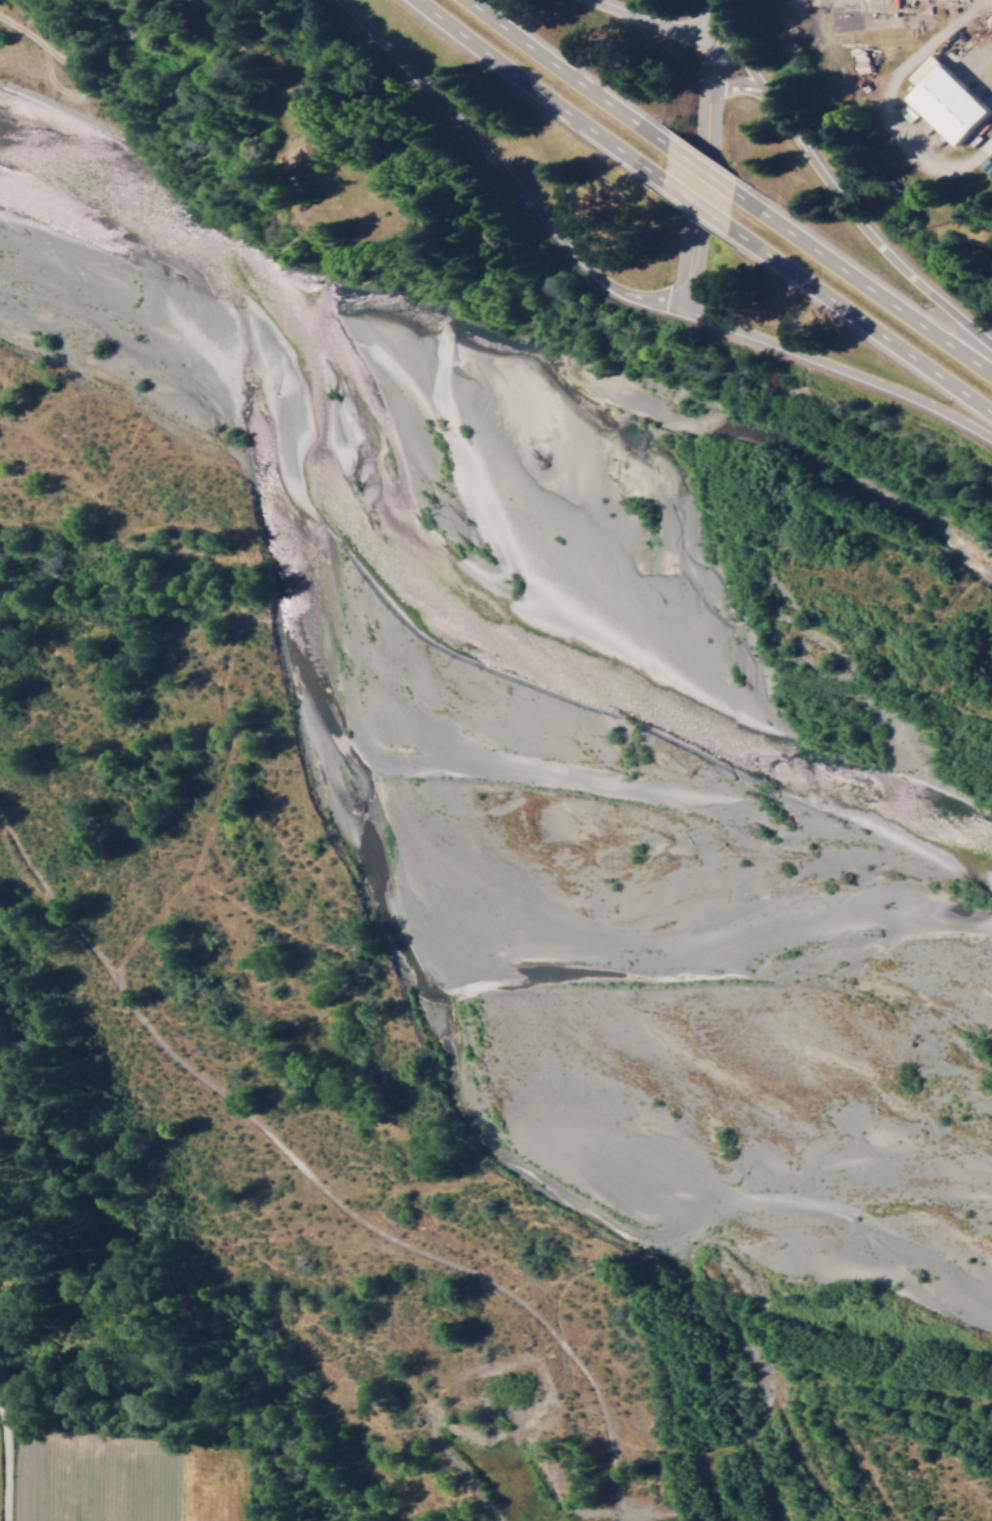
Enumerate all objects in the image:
road: (650, 31)
road: (566, 74)
road: (741, 87)
road: (541, 93)
building: (946, 99)
road: (704, 156)
road: (700, 170)
road: (502, 173)
road: (839, 196)
road: (696, 205)
road: (862, 284)
road: (859, 320)
road: (840, 368)
river: (176, 586)
river: (676, 912)
river: (880, 1242)
road: (9, 1457)

